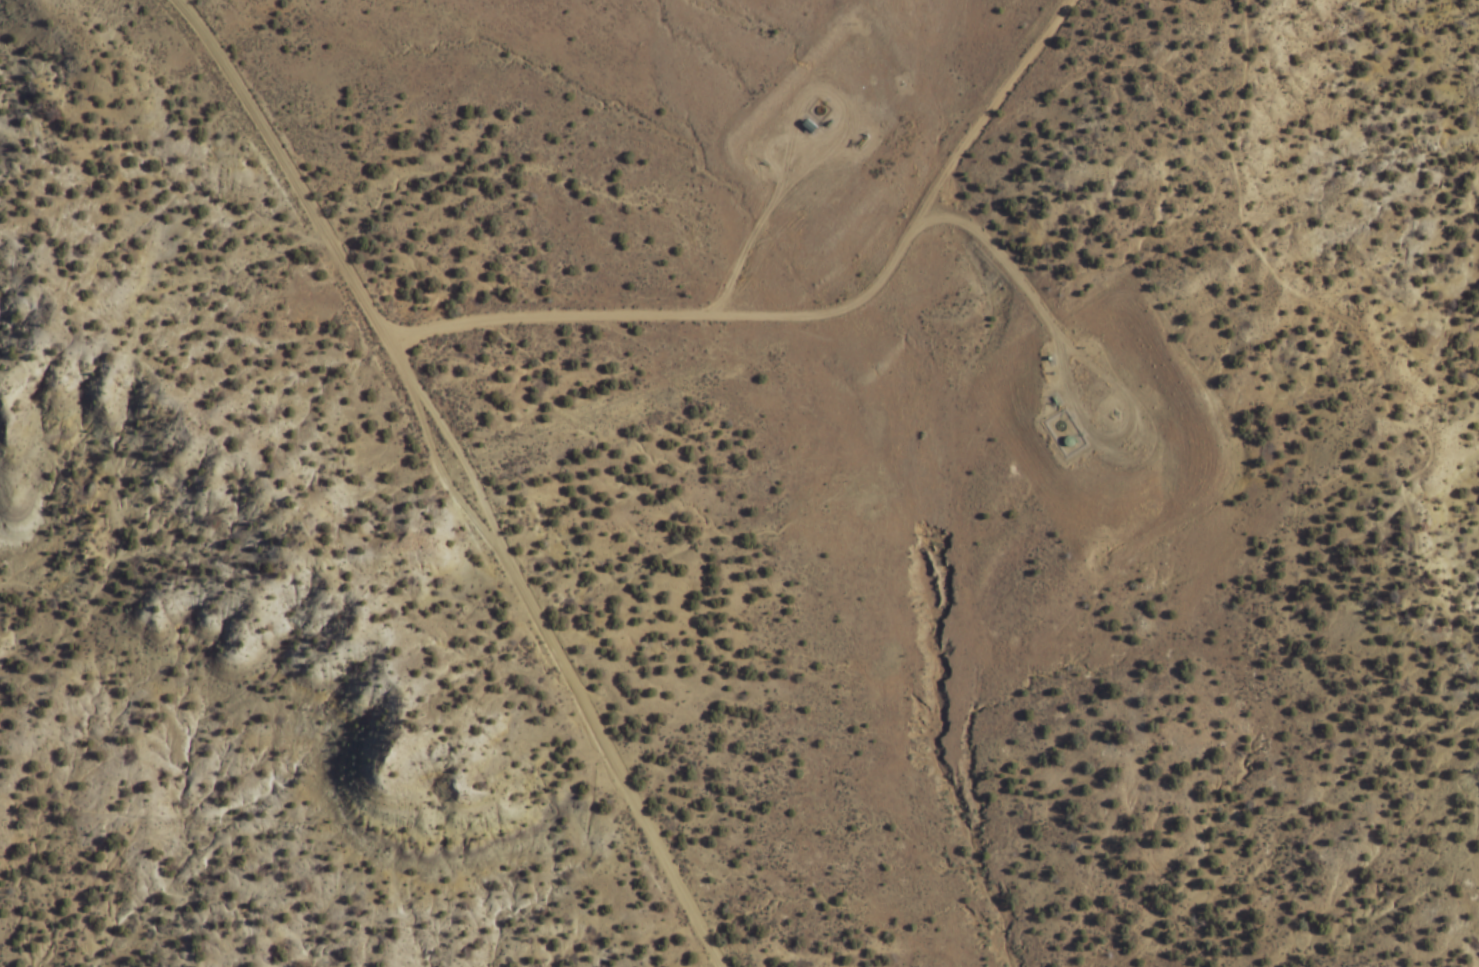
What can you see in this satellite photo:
road: (170, 2)
road: (789, 89)
road: (802, 318)
road: (1350, 329)
road: (1070, 402)
road: (459, 472)
road: (436, 485)

